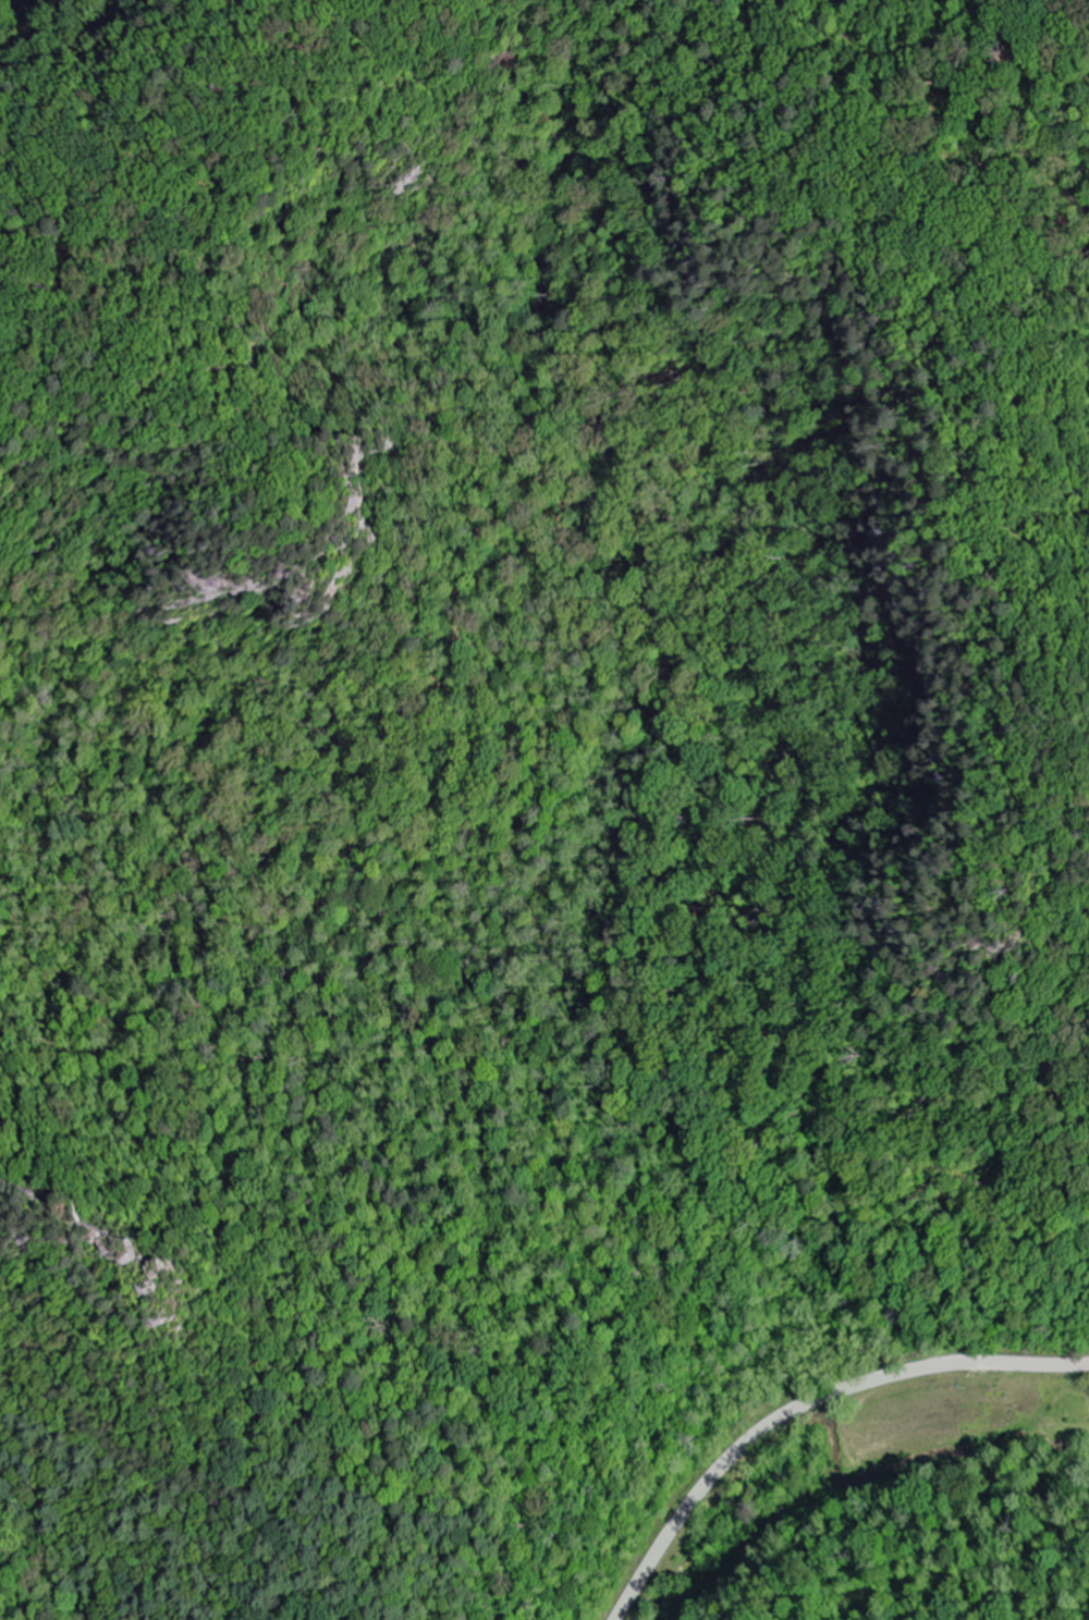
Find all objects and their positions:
road: (804, 1403)

